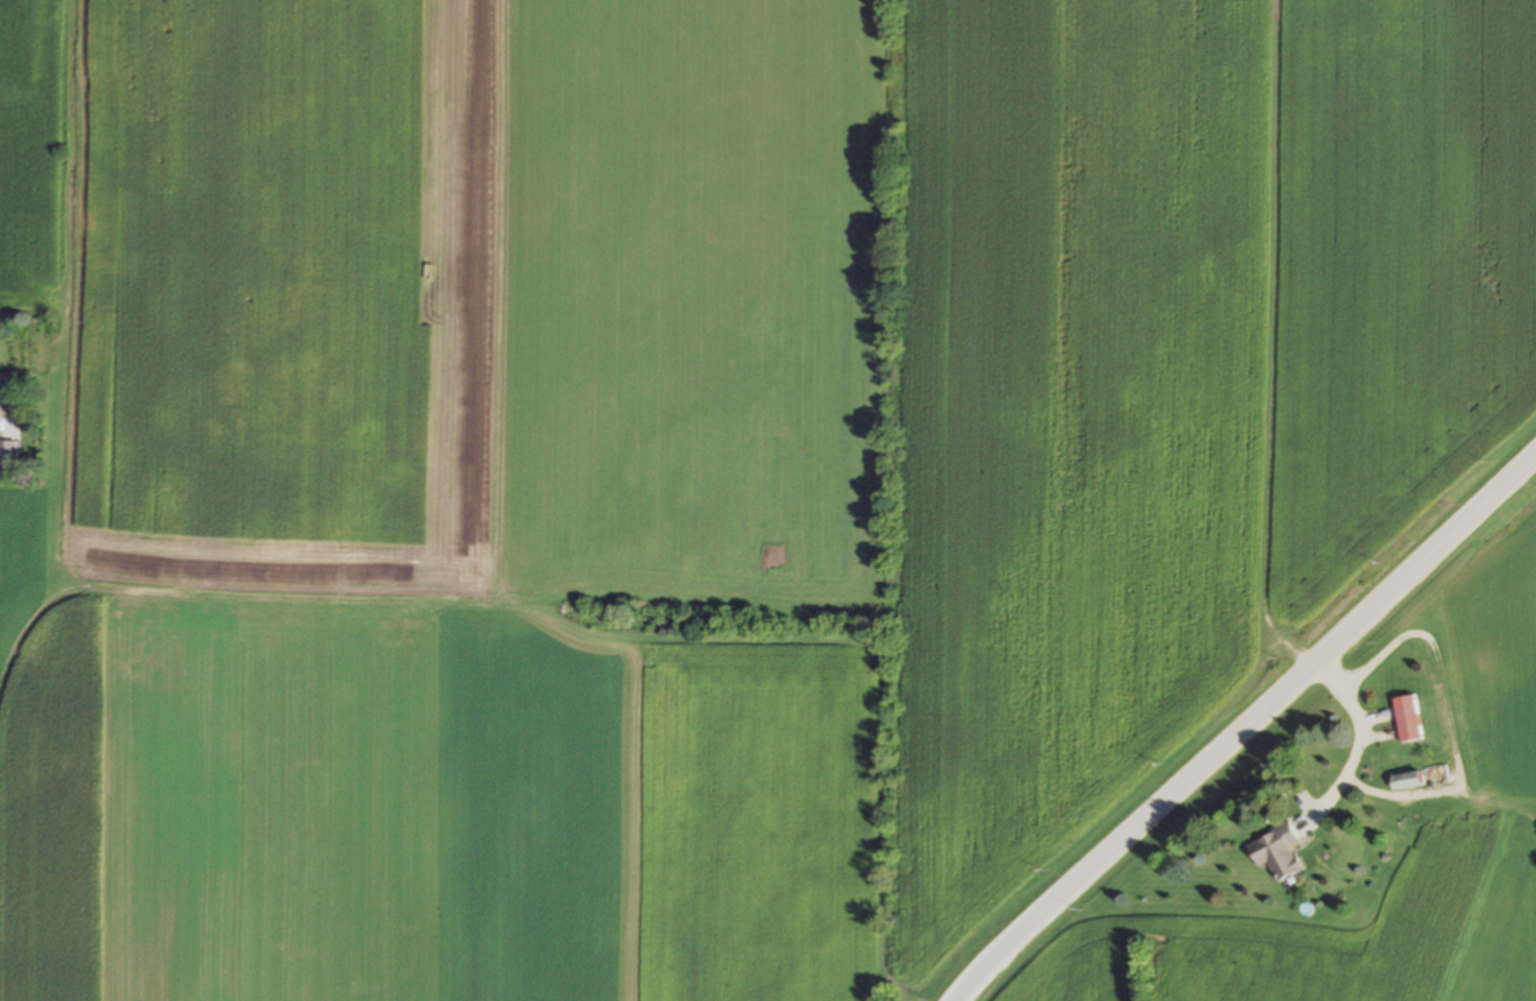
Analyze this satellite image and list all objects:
road: (3, 408)
building: (8, 455)
building: (1407, 719)
road: (1450, 726)
road: (1245, 727)
building: (1405, 781)
building: (1276, 852)

